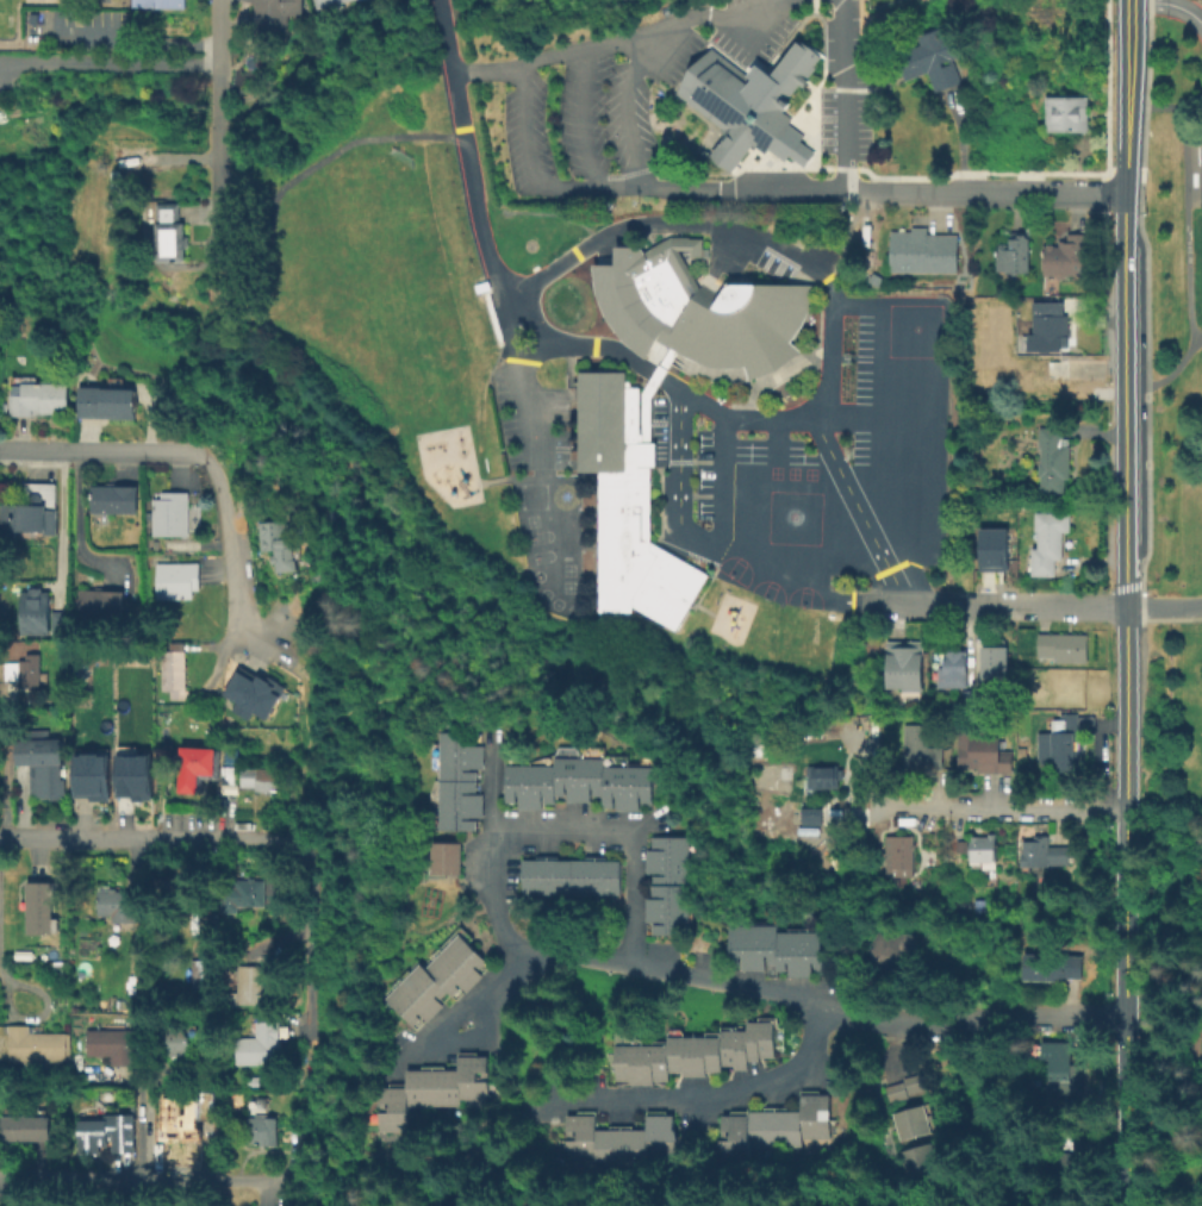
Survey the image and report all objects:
building: (325, 2)
building: (155, 4)
road: (1169, 4)
building: (272, 14)
road: (684, 30)
road: (148, 42)
street lamp: (1108, 50)
road: (842, 52)
road: (554, 56)
building: (928, 57)
road: (108, 63)
road: (487, 70)
road: (1125, 96)
building: (743, 102)
road: (625, 111)
building: (1066, 113)
road: (581, 120)
road: (220, 124)
building: (130, 151)
road: (468, 155)
road: (528, 158)
building: (1095, 164)
road: (622, 190)
road: (712, 190)
road: (801, 190)
road: (864, 190)
road: (1001, 193)
park: (369, 194)
road: (1183, 195)
building: (172, 233)
building: (920, 250)
building: (1014, 254)
building: (1067, 256)
road: (809, 263)
building: (717, 311)
road: (510, 324)
building: (1046, 325)
road: (600, 348)
road: (1171, 373)
road: (654, 375)
building: (41, 398)
road: (1123, 401)
building: (106, 402)
road: (14, 450)
road: (46, 451)
road: (131, 451)
building: (1053, 460)
building: (113, 498)
building: (627, 499)
building: (169, 513)
road: (860, 513)
road: (62, 517)
building: (27, 518)
road: (79, 519)
building: (1045, 540)
building: (278, 544)
road: (229, 549)
building: (990, 549)
road: (724, 555)
building: (176, 579)
park: (1175, 587)
building: (100, 602)
road: (1015, 607)
road: (1163, 608)
building: (36, 612)
road: (1166, 619)
building: (62, 621)
building: (1063, 645)
building: (991, 661)
building: (901, 663)
building: (953, 668)
building: (25, 669)
building: (174, 669)
building: (1053, 688)
building: (255, 694)
building: (971, 698)
road: (306, 713)
building: (1061, 742)
building: (920, 749)
building: (979, 749)
building: (42, 758)
building: (197, 764)
road: (2, 768)
building: (230, 768)
building: (88, 774)
building: (131, 775)
building: (818, 776)
building: (263, 777)
building: (456, 780)
building: (574, 781)
road: (491, 791)
road: (872, 807)
road: (997, 810)
building: (810, 813)
road: (154, 839)
building: (959, 845)
building: (979, 850)
building: (1042, 851)
building: (896, 854)
building: (442, 856)
building: (568, 876)
building: (666, 883)
building: (173, 887)
building: (243, 892)
building: (118, 904)
building: (41, 906)
road: (1123, 907)
road: (310, 943)
building: (773, 948)
building: (889, 950)
building: (242, 951)
road: (639, 961)
building: (1051, 966)
building: (201, 974)
building: (435, 980)
building: (250, 983)
road: (39, 1013)
road: (456, 1014)
road: (969, 1020)
road: (1163, 1025)
road: (474, 1037)
building: (173, 1042)
building: (259, 1043)
building: (112, 1044)
building: (32, 1045)
road: (1198, 1051)
building: (692, 1052)
building: (1059, 1064)
building: (251, 1082)
building: (902, 1086)
building: (434, 1091)
road: (874, 1098)
building: (183, 1116)
building: (909, 1120)
road: (144, 1121)
building: (259, 1121)
building: (773, 1124)
building: (25, 1127)
building: (106, 1130)
building: (618, 1139)
building: (1064, 1148)
building: (917, 1160)
road: (150, 1179)

